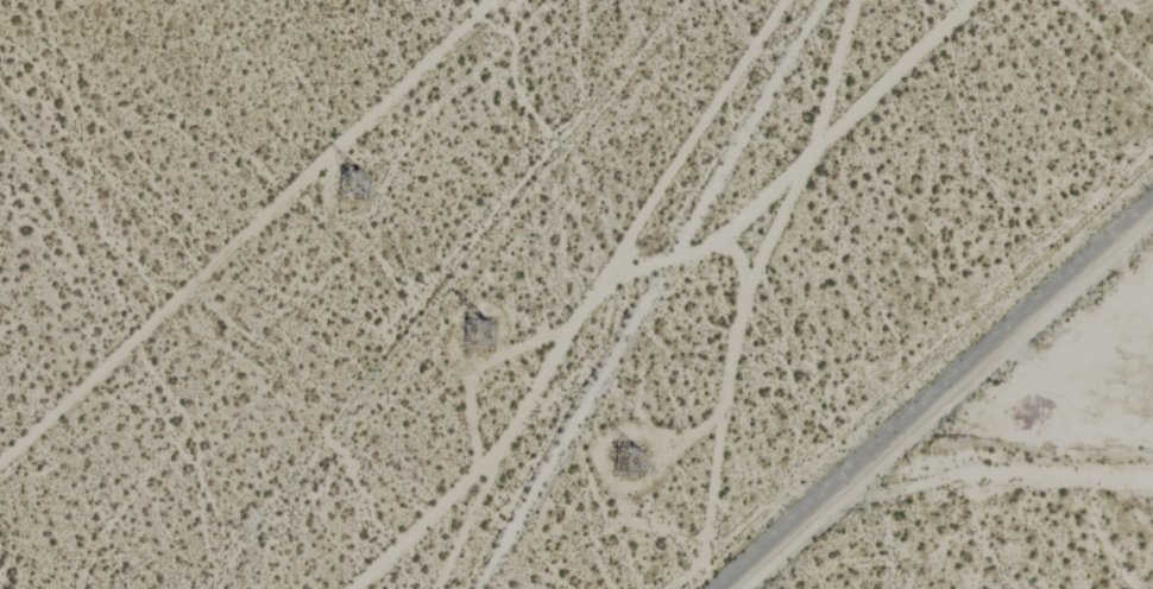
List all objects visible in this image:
road: (809, 154)
power tower: (348, 188)
road: (641, 271)
power tower: (475, 338)
road: (1000, 354)
railway: (932, 391)
road: (723, 416)
power tower: (632, 461)
road: (470, 517)
road: (794, 539)

